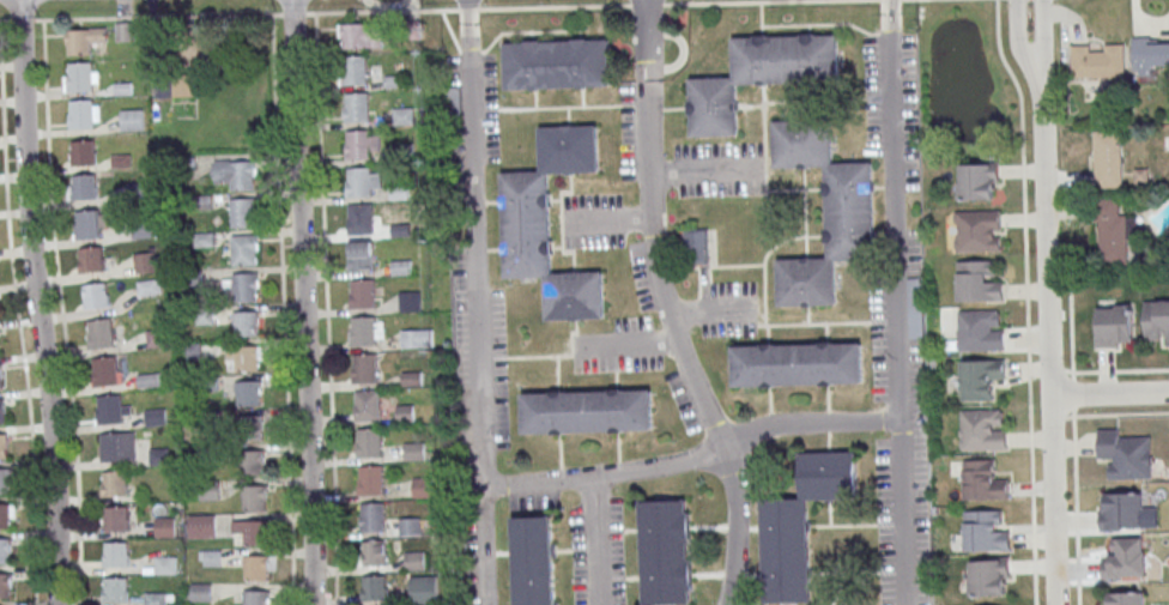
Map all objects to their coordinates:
road: (743, 1)
road: (646, 4)
road: (553, 6)
road: (891, 6)
road: (467, 8)
road: (381, 11)
road: (292, 13)
road: (468, 13)
road: (156, 17)
road: (4, 19)
road: (19, 19)
building: (125, 31)
building: (358, 37)
building: (83, 41)
road: (1044, 46)
road: (1019, 48)
building: (1151, 54)
building: (1098, 62)
building: (557, 63)
building: (355, 71)
building: (80, 77)
building: (757, 78)
building: (395, 81)
building: (453, 99)
building: (357, 107)
building: (84, 114)
building: (404, 116)
building: (131, 120)
building: (362, 144)
building: (405, 150)
building: (83, 153)
building: (1107, 159)
road: (703, 169)
building: (242, 174)
building: (363, 181)
building: (979, 182)
building: (83, 187)
building: (400, 193)
building: (243, 213)
building: (849, 213)
building: (362, 218)
road: (610, 222)
building: (87, 225)
building: (549, 226)
building: (402, 230)
building: (977, 231)
building: (1113, 232)
building: (697, 247)
building: (244, 249)
building: (362, 255)
building: (91, 260)
building: (144, 262)
building: (401, 267)
building: (977, 282)
building: (149, 288)
building: (246, 288)
building: (363, 292)
building: (96, 296)
road: (40, 302)
road: (305, 302)
building: (411, 302)
road: (327, 308)
road: (668, 308)
road: (898, 308)
building: (915, 308)
road: (284, 309)
road: (713, 309)
road: (63, 311)
road: (479, 316)
building: (1156, 319)
building: (247, 322)
building: (1113, 326)
building: (980, 329)
building: (364, 331)
road: (20, 332)
building: (103, 333)
building: (417, 338)
road: (628, 343)
road: (1028, 344)
road: (1050, 347)
building: (248, 358)
building: (798, 365)
building: (365, 368)
building: (107, 371)
building: (1, 377)
building: (412, 377)
building: (980, 379)
building: (152, 380)
building: (249, 393)
road: (1110, 393)
building: (368, 405)
building: (111, 410)
building: (587, 411)
building: (2, 412)
building: (407, 413)
building: (156, 417)
building: (252, 428)
building: (983, 429)
building: (370, 442)
building: (4, 446)
building: (117, 447)
building: (414, 450)
building: (1125, 455)
building: (159, 456)
road: (695, 458)
building: (253, 461)
building: (372, 479)
building: (983, 480)
building: (5, 482)
building: (114, 483)
building: (424, 488)
building: (255, 497)
building: (1121, 512)
building: (7, 516)
building: (374, 518)
building: (116, 519)
building: (799, 525)
building: (201, 526)
building: (411, 526)
building: (164, 527)
building: (986, 530)
building: (255, 532)
road: (599, 540)
building: (5, 550)
building: (666, 551)
building: (376, 552)
building: (116, 555)
building: (210, 557)
building: (1123, 559)
building: (414, 561)
building: (534, 561)
building: (165, 565)
building: (256, 568)
building: (988, 577)
building: (5, 586)
building: (375, 586)
building: (115, 589)
building: (424, 589)
building: (199, 592)
building: (255, 597)
building: (1123, 598)
building: (156, 599)

